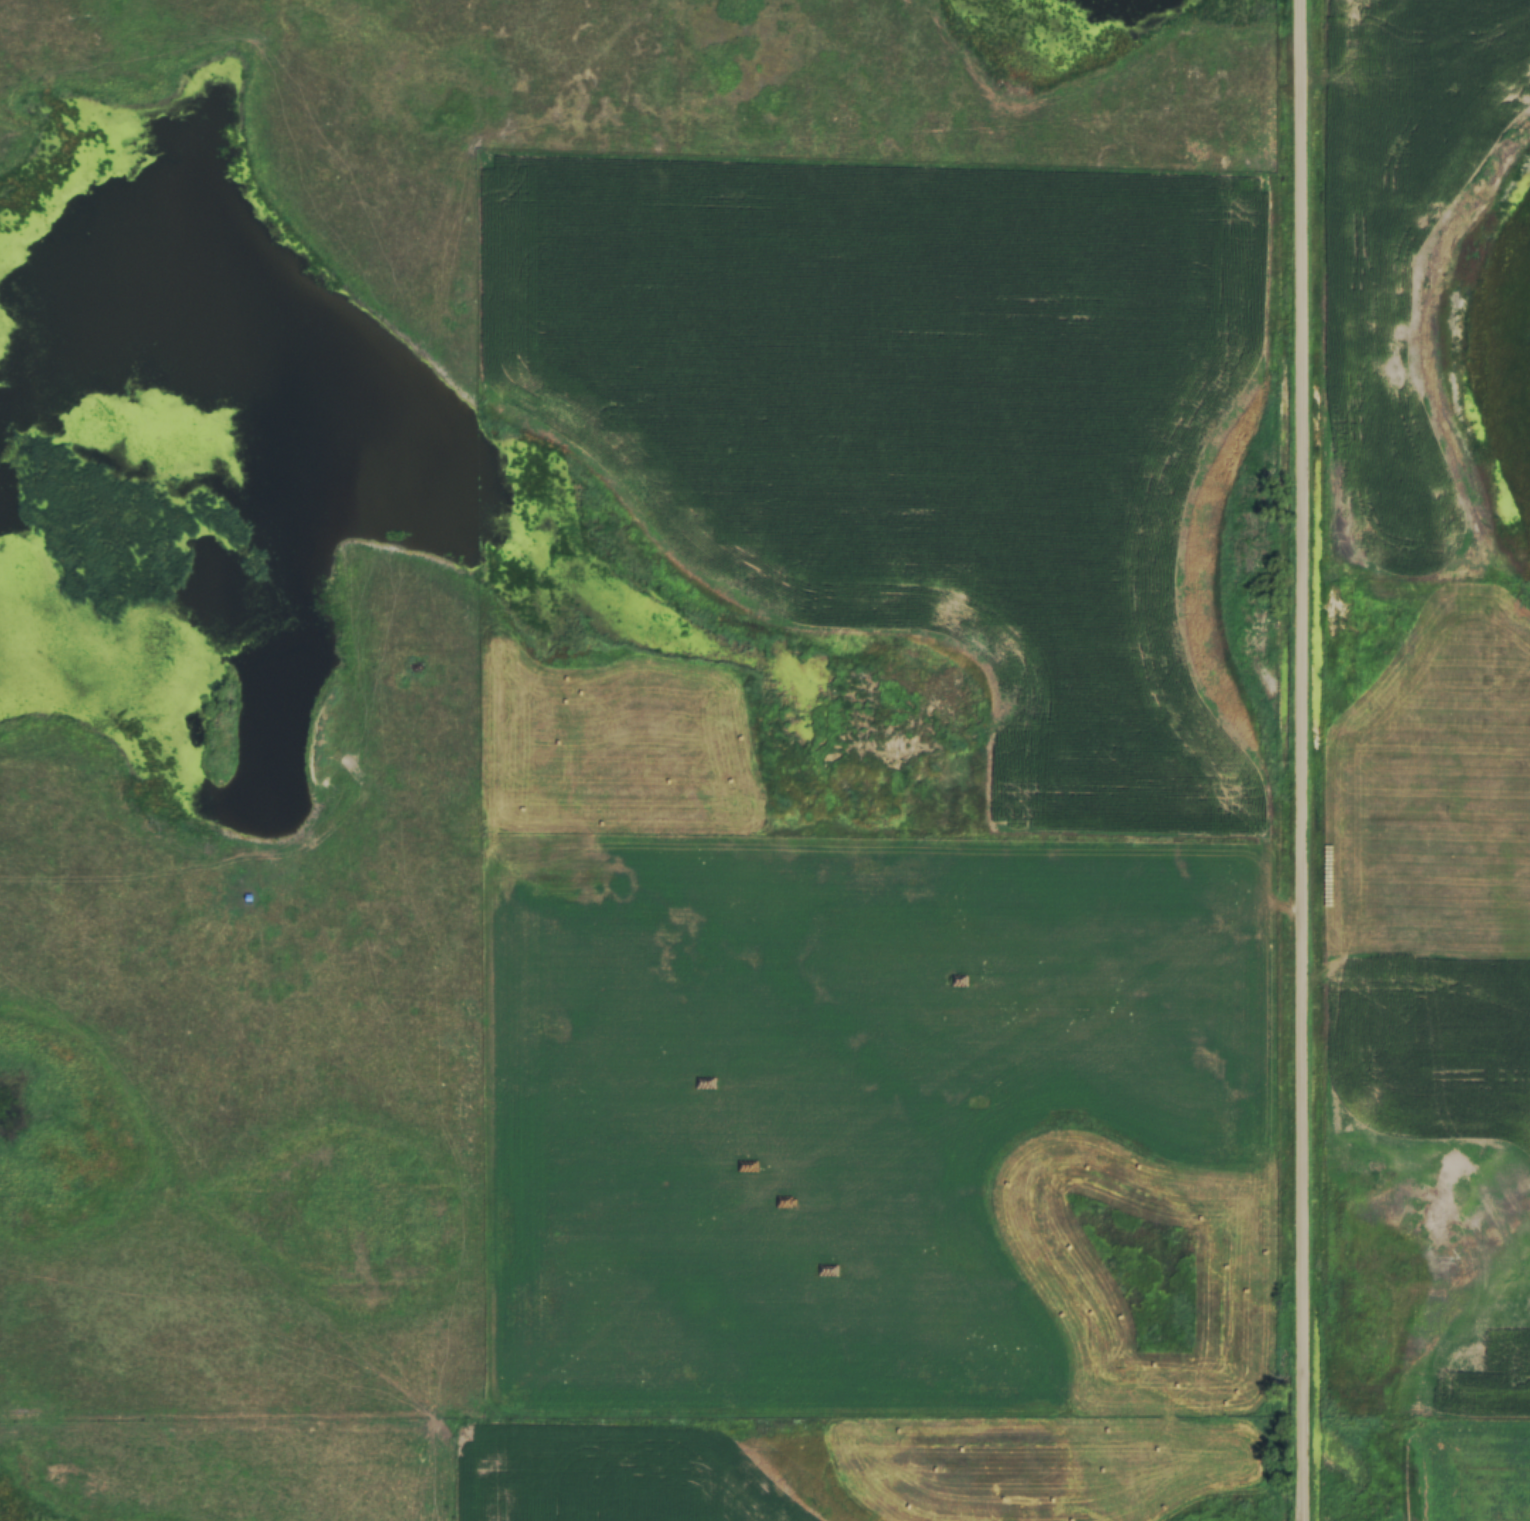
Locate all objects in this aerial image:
road: (1302, 760)

